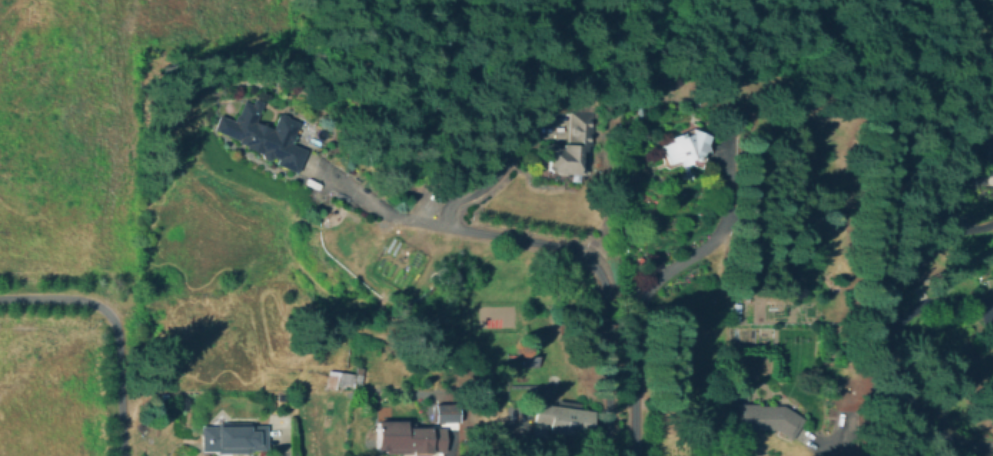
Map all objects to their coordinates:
building: (637, 111)
building: (262, 135)
building: (989, 140)
building: (571, 144)
building: (683, 146)
road: (486, 179)
road: (712, 237)
road: (580, 258)
road: (928, 300)
road: (878, 323)
road: (115, 327)
building: (530, 362)
building: (344, 380)
building: (444, 413)
building: (765, 418)
building: (565, 419)
building: (411, 435)
road: (522, 437)
building: (233, 439)
road: (969, 449)

